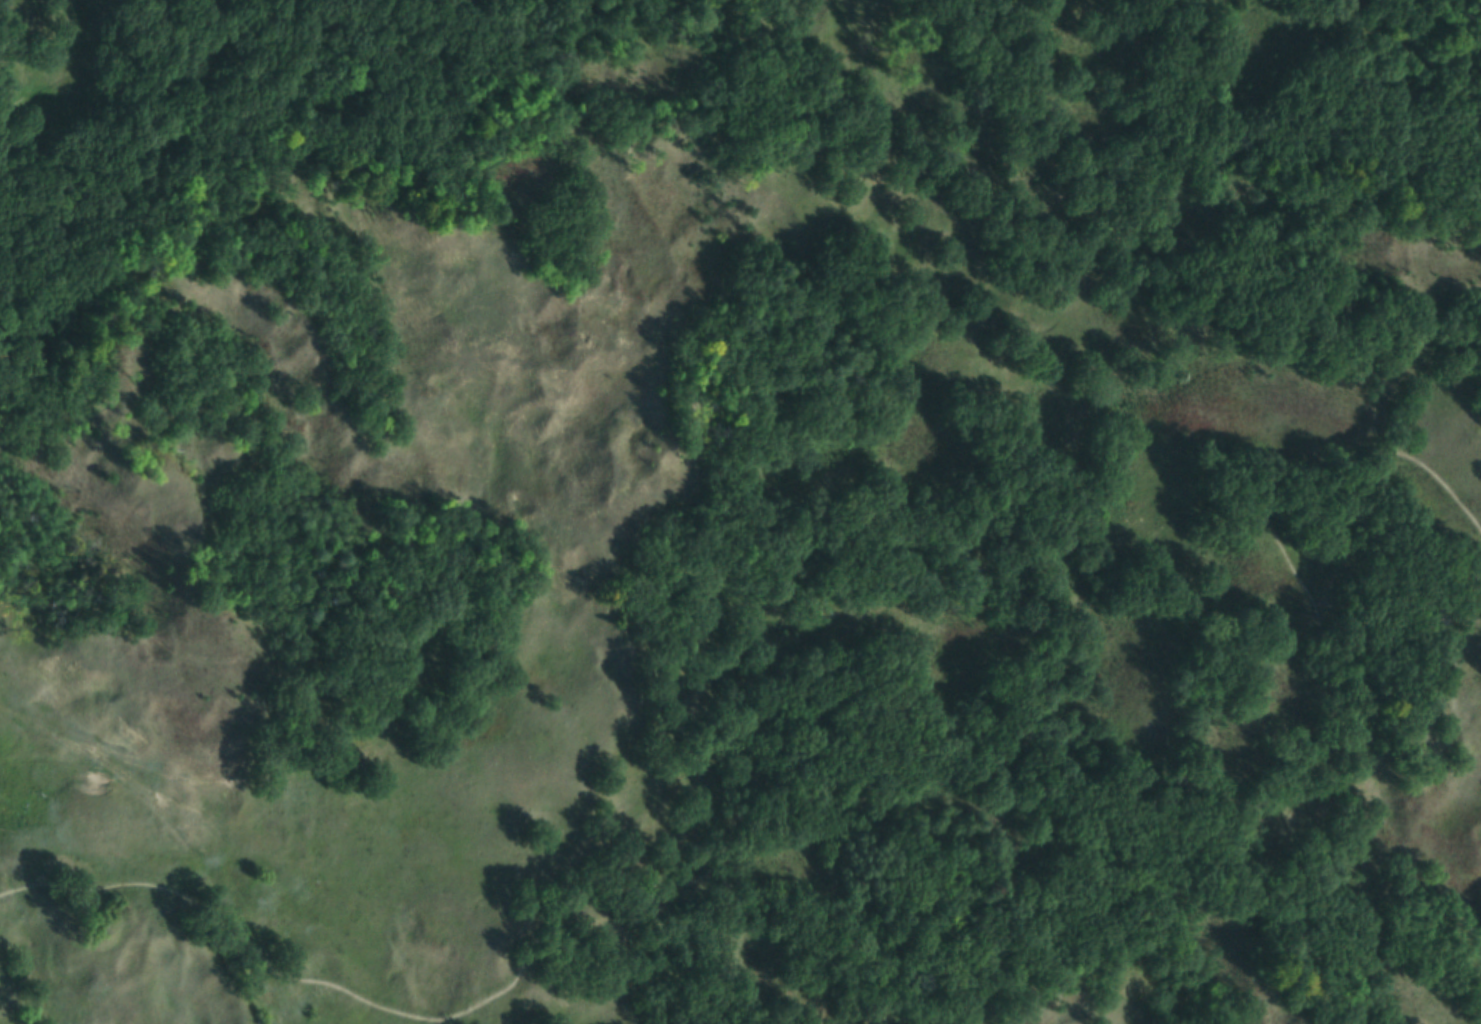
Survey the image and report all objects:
road: (86, 3)
road: (859, 736)

